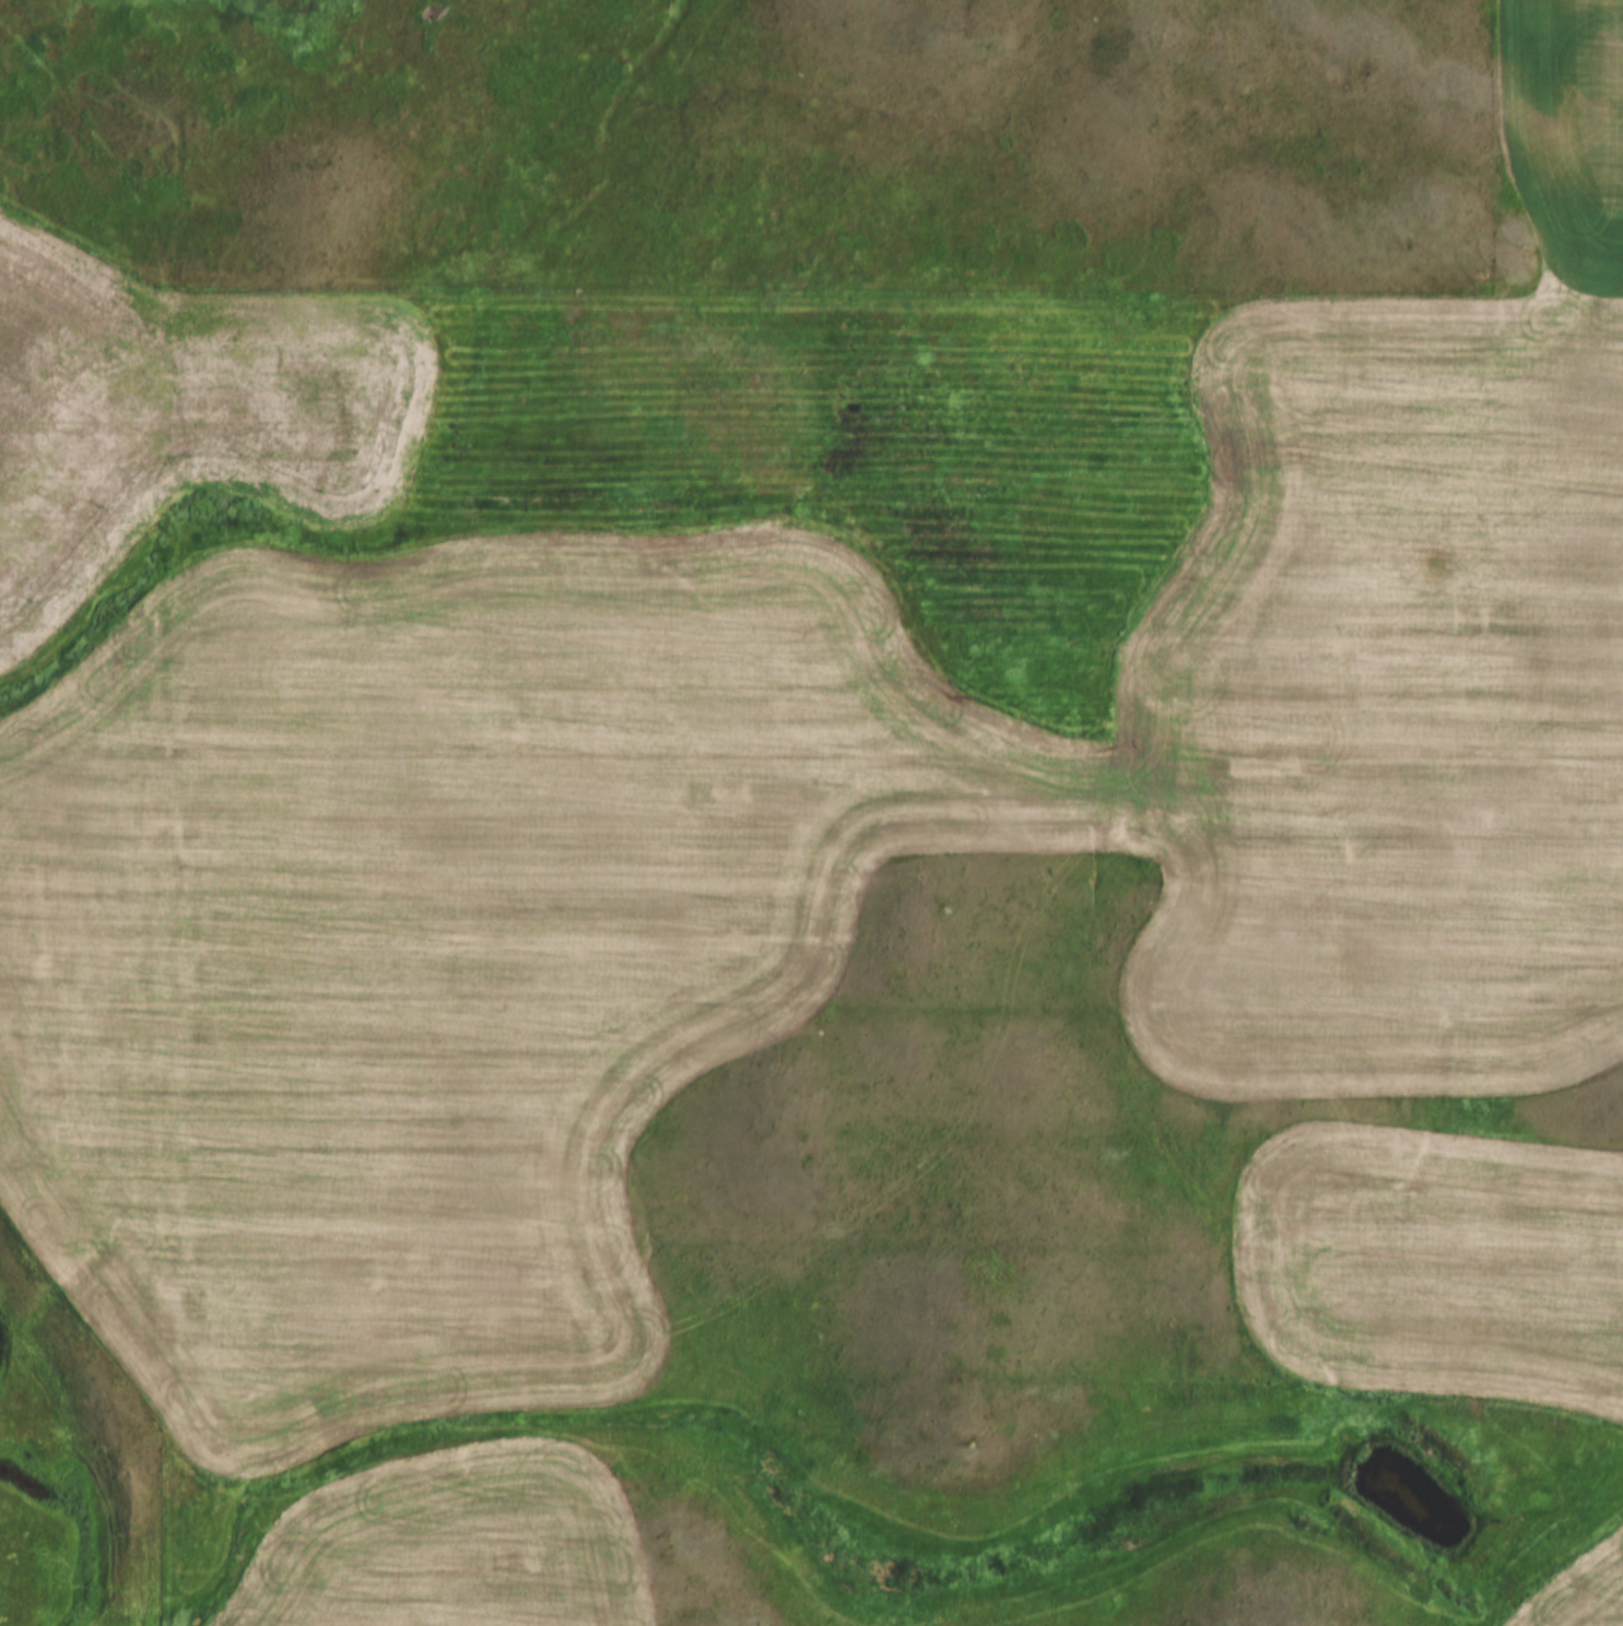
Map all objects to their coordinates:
road: (103, 141)

